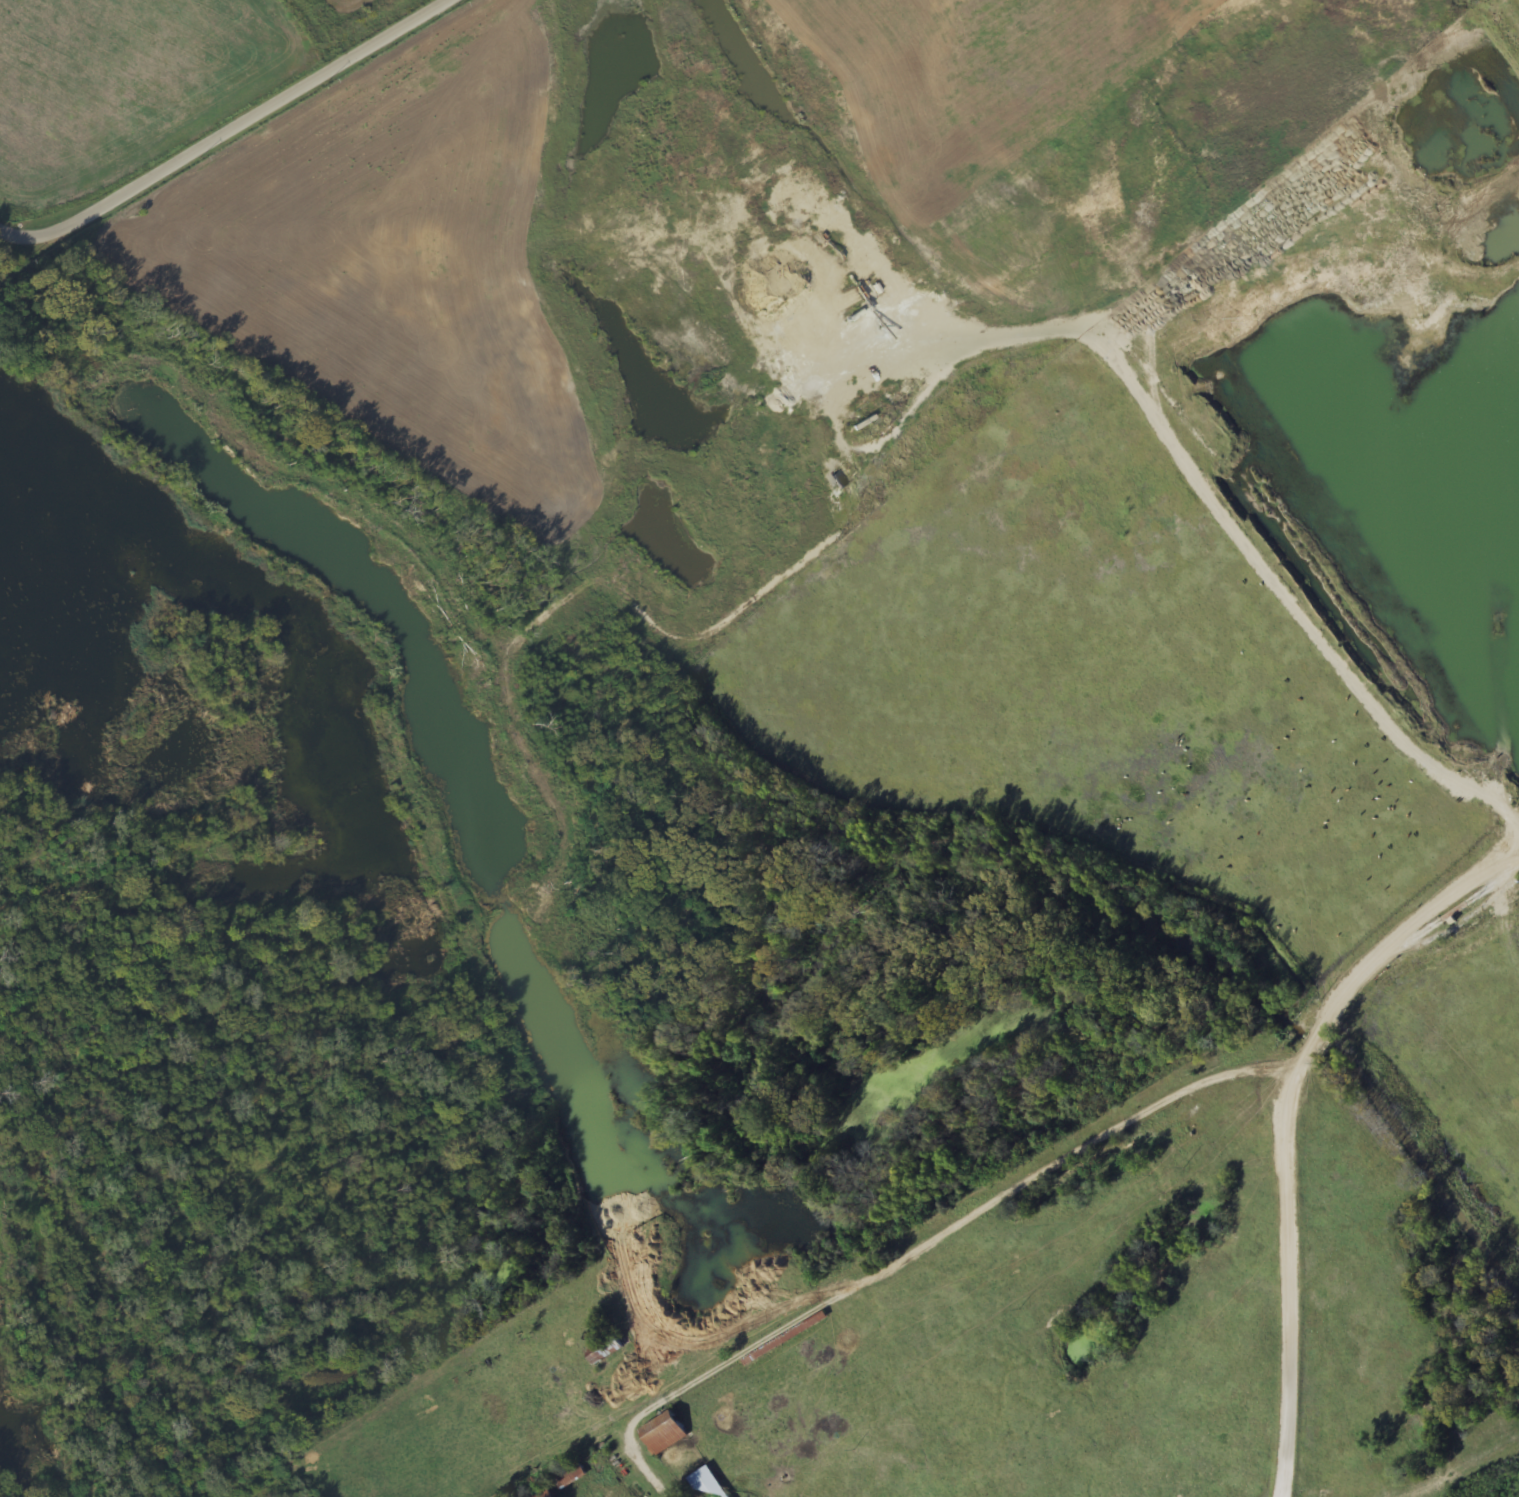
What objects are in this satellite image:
road: (229, 132)
building: (865, 422)
building: (662, 1433)
building: (545, 1494)

